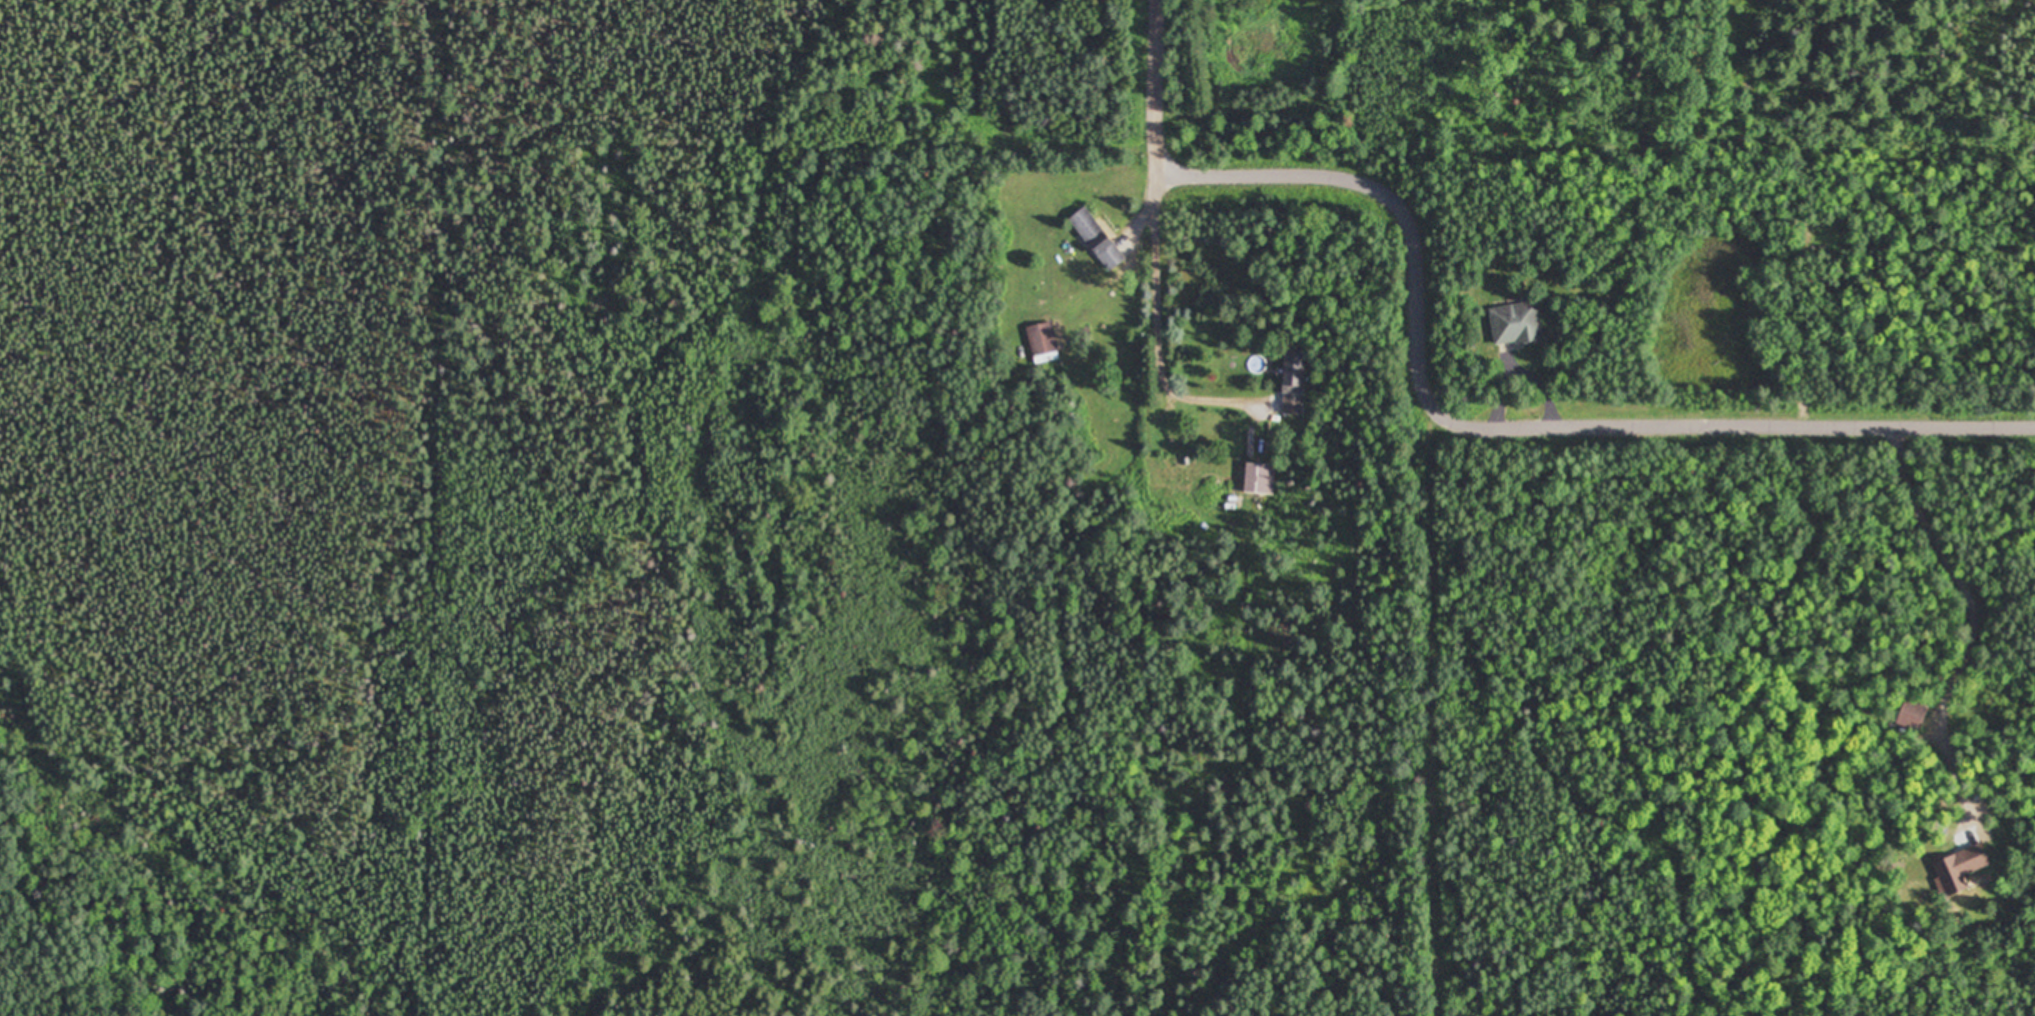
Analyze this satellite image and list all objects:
road: (1160, 86)
building: (1097, 238)
road: (1151, 291)
building: (1515, 324)
building: (1041, 340)
building: (1293, 383)
road: (1511, 422)
building: (1259, 478)
building: (1911, 715)

